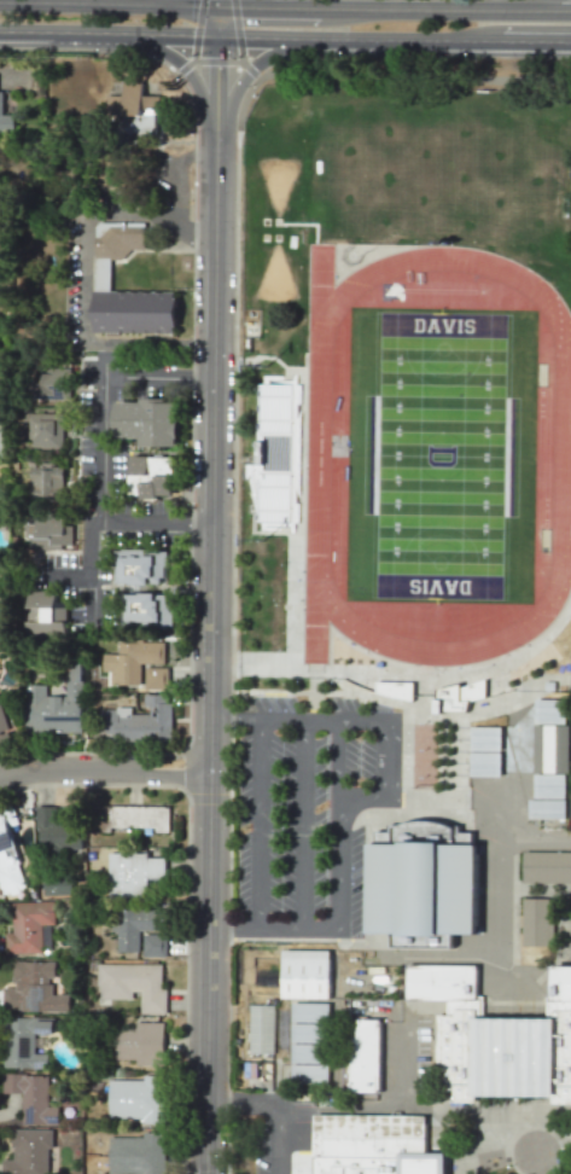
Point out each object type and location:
road: (107, 4)
traffic signals: (217, 5)
road: (267, 5)
road: (523, 5)
road: (444, 8)
road: (217, 19)
road: (197, 29)
road: (237, 30)
road: (109, 34)
road: (359, 39)
road: (535, 39)
road: (217, 59)
road: (181, 64)
road: (183, 65)
road: (249, 69)
road: (247, 70)
road: (413, 76)
road: (217, 91)
building: (133, 110)
building: (5, 120)
park: (414, 175)
park: (276, 181)
road: (216, 182)
road: (176, 188)
road: (196, 216)
building: (117, 239)
park: (273, 278)
road: (83, 296)
building: (134, 312)
road: (158, 372)
building: (53, 383)
building: (146, 422)
building: (46, 430)
building: (273, 455)
park: (441, 455)
track: (435, 457)
building: (151, 476)
building: (46, 482)
road: (100, 488)
road: (232, 500)
building: (48, 530)
building: (140, 566)
road: (87, 570)
road: (94, 598)
building: (146, 609)
building: (45, 616)
building: (138, 664)
building: (396, 688)
road: (212, 696)
building: (458, 696)
building: (58, 704)
building: (549, 711)
building: (140, 721)
building: (4, 732)
building: (484, 738)
building: (549, 748)
road: (164, 759)
road: (337, 759)
building: (484, 762)
road: (105, 772)
building: (549, 785)
road: (354, 797)
road: (458, 806)
building: (546, 808)
parking lot: (308, 810)
building: (132, 816)
road: (260, 824)
road: (302, 825)
building: (57, 831)
building: (547, 867)
building: (133, 872)
building: (424, 883)
building: (58, 884)
road: (495, 905)
building: (538, 923)
building: (29, 926)
building: (135, 926)
building: (155, 945)
building: (307, 972)
building: (133, 983)
building: (438, 984)
building: (560, 987)
building: (33, 988)
building: (262, 1028)
building: (308, 1033)
building: (25, 1041)
building: (140, 1042)
building: (363, 1056)
building: (503, 1060)
building: (309, 1074)
building: (31, 1097)
building: (138, 1099)
road: (275, 1103)
road: (378, 1103)
building: (367, 1144)
building: (28, 1152)
building: (136, 1153)
road: (474, 1158)

